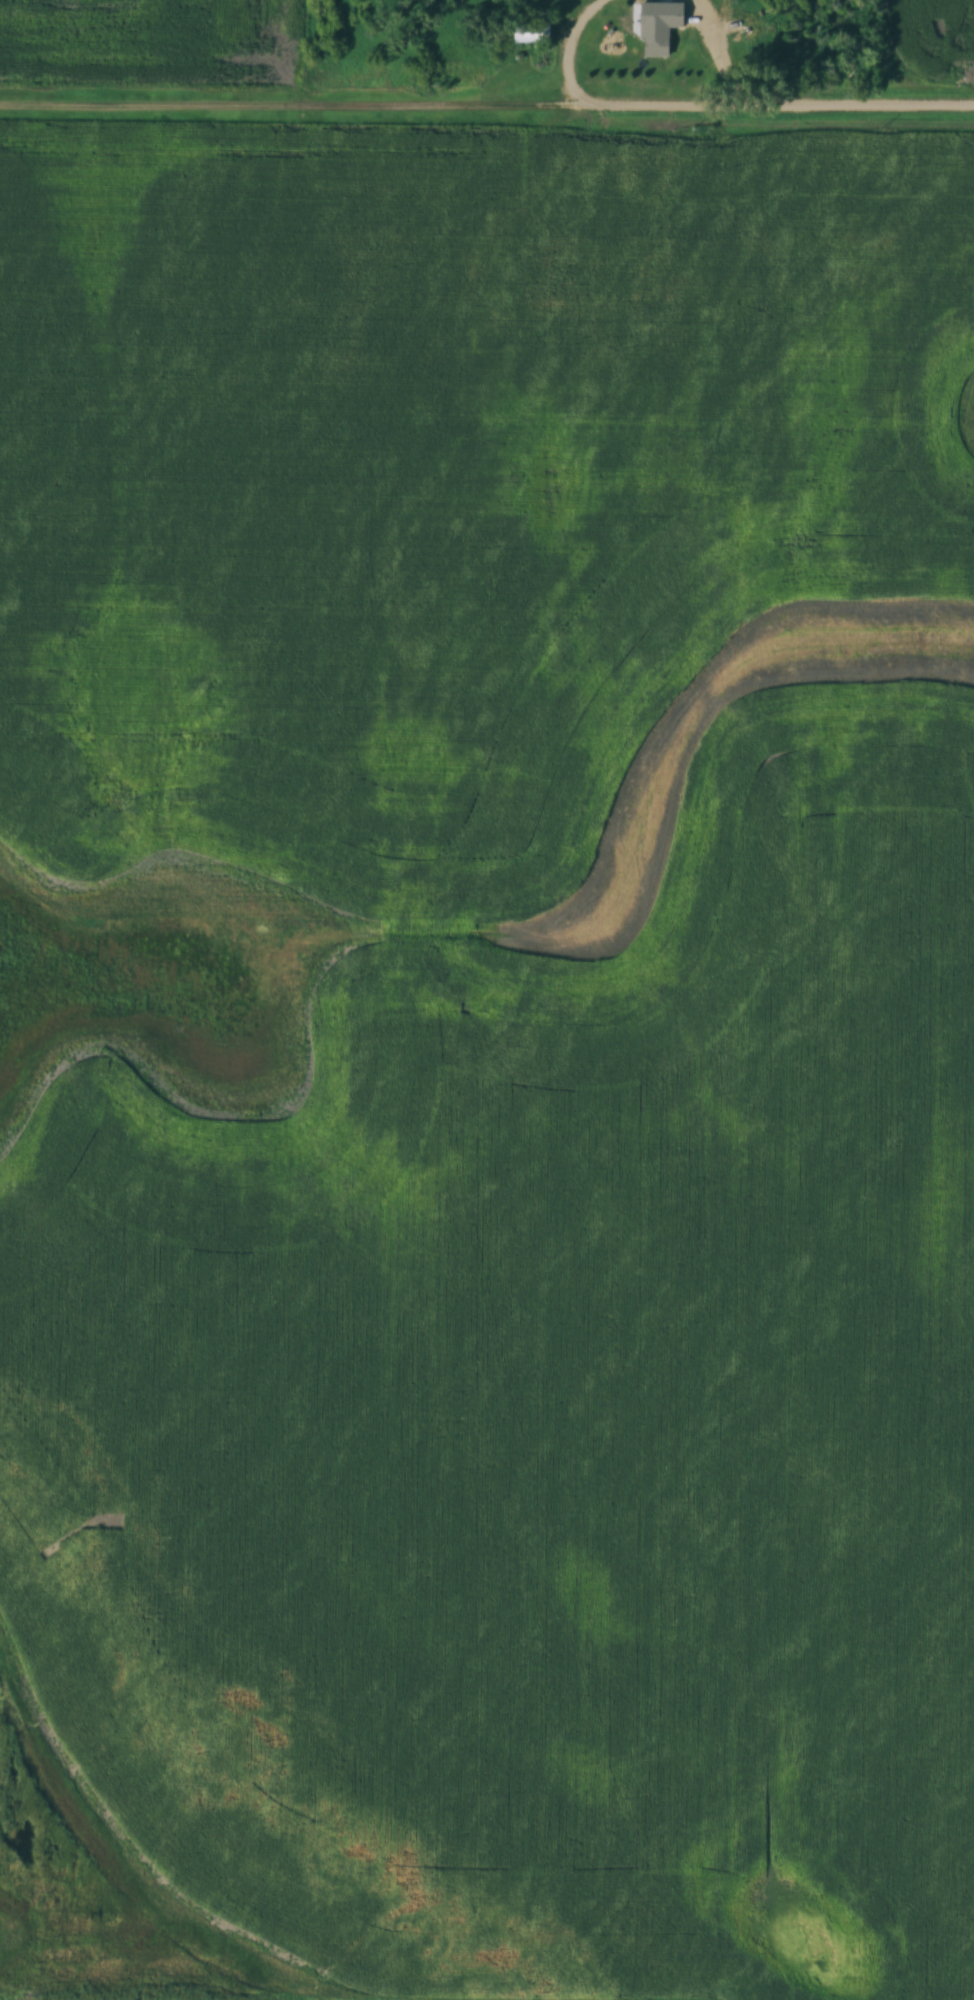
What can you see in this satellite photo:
building: (660, 26)
building: (744, 33)
building: (527, 36)
road: (487, 102)

